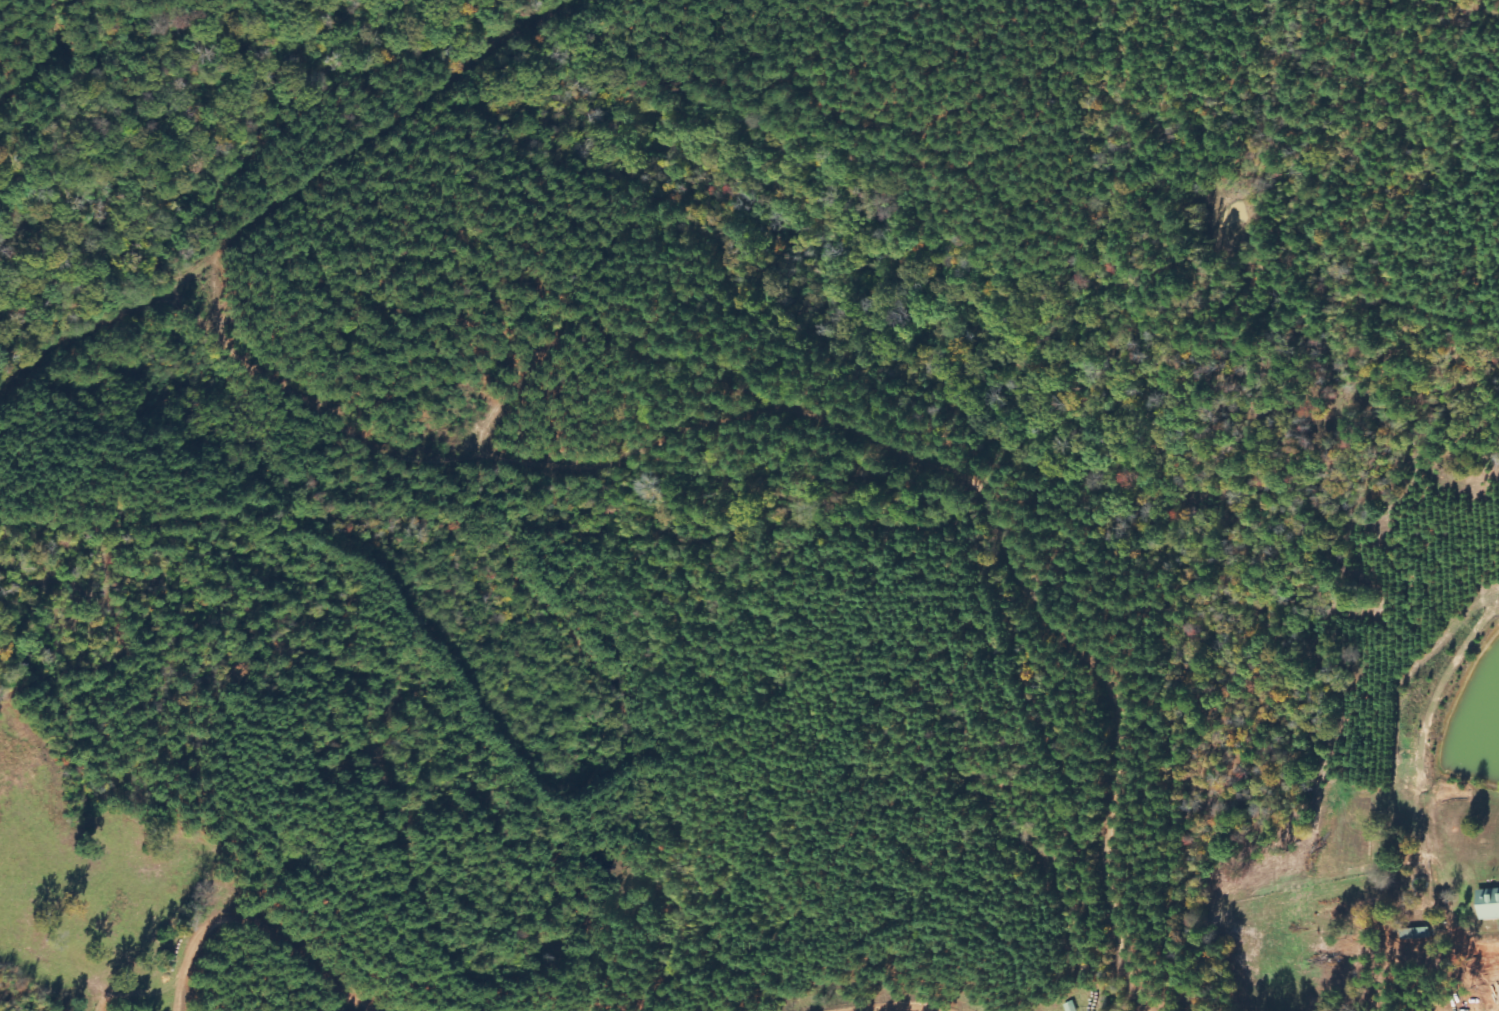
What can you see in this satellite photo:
building: (1489, 905)

